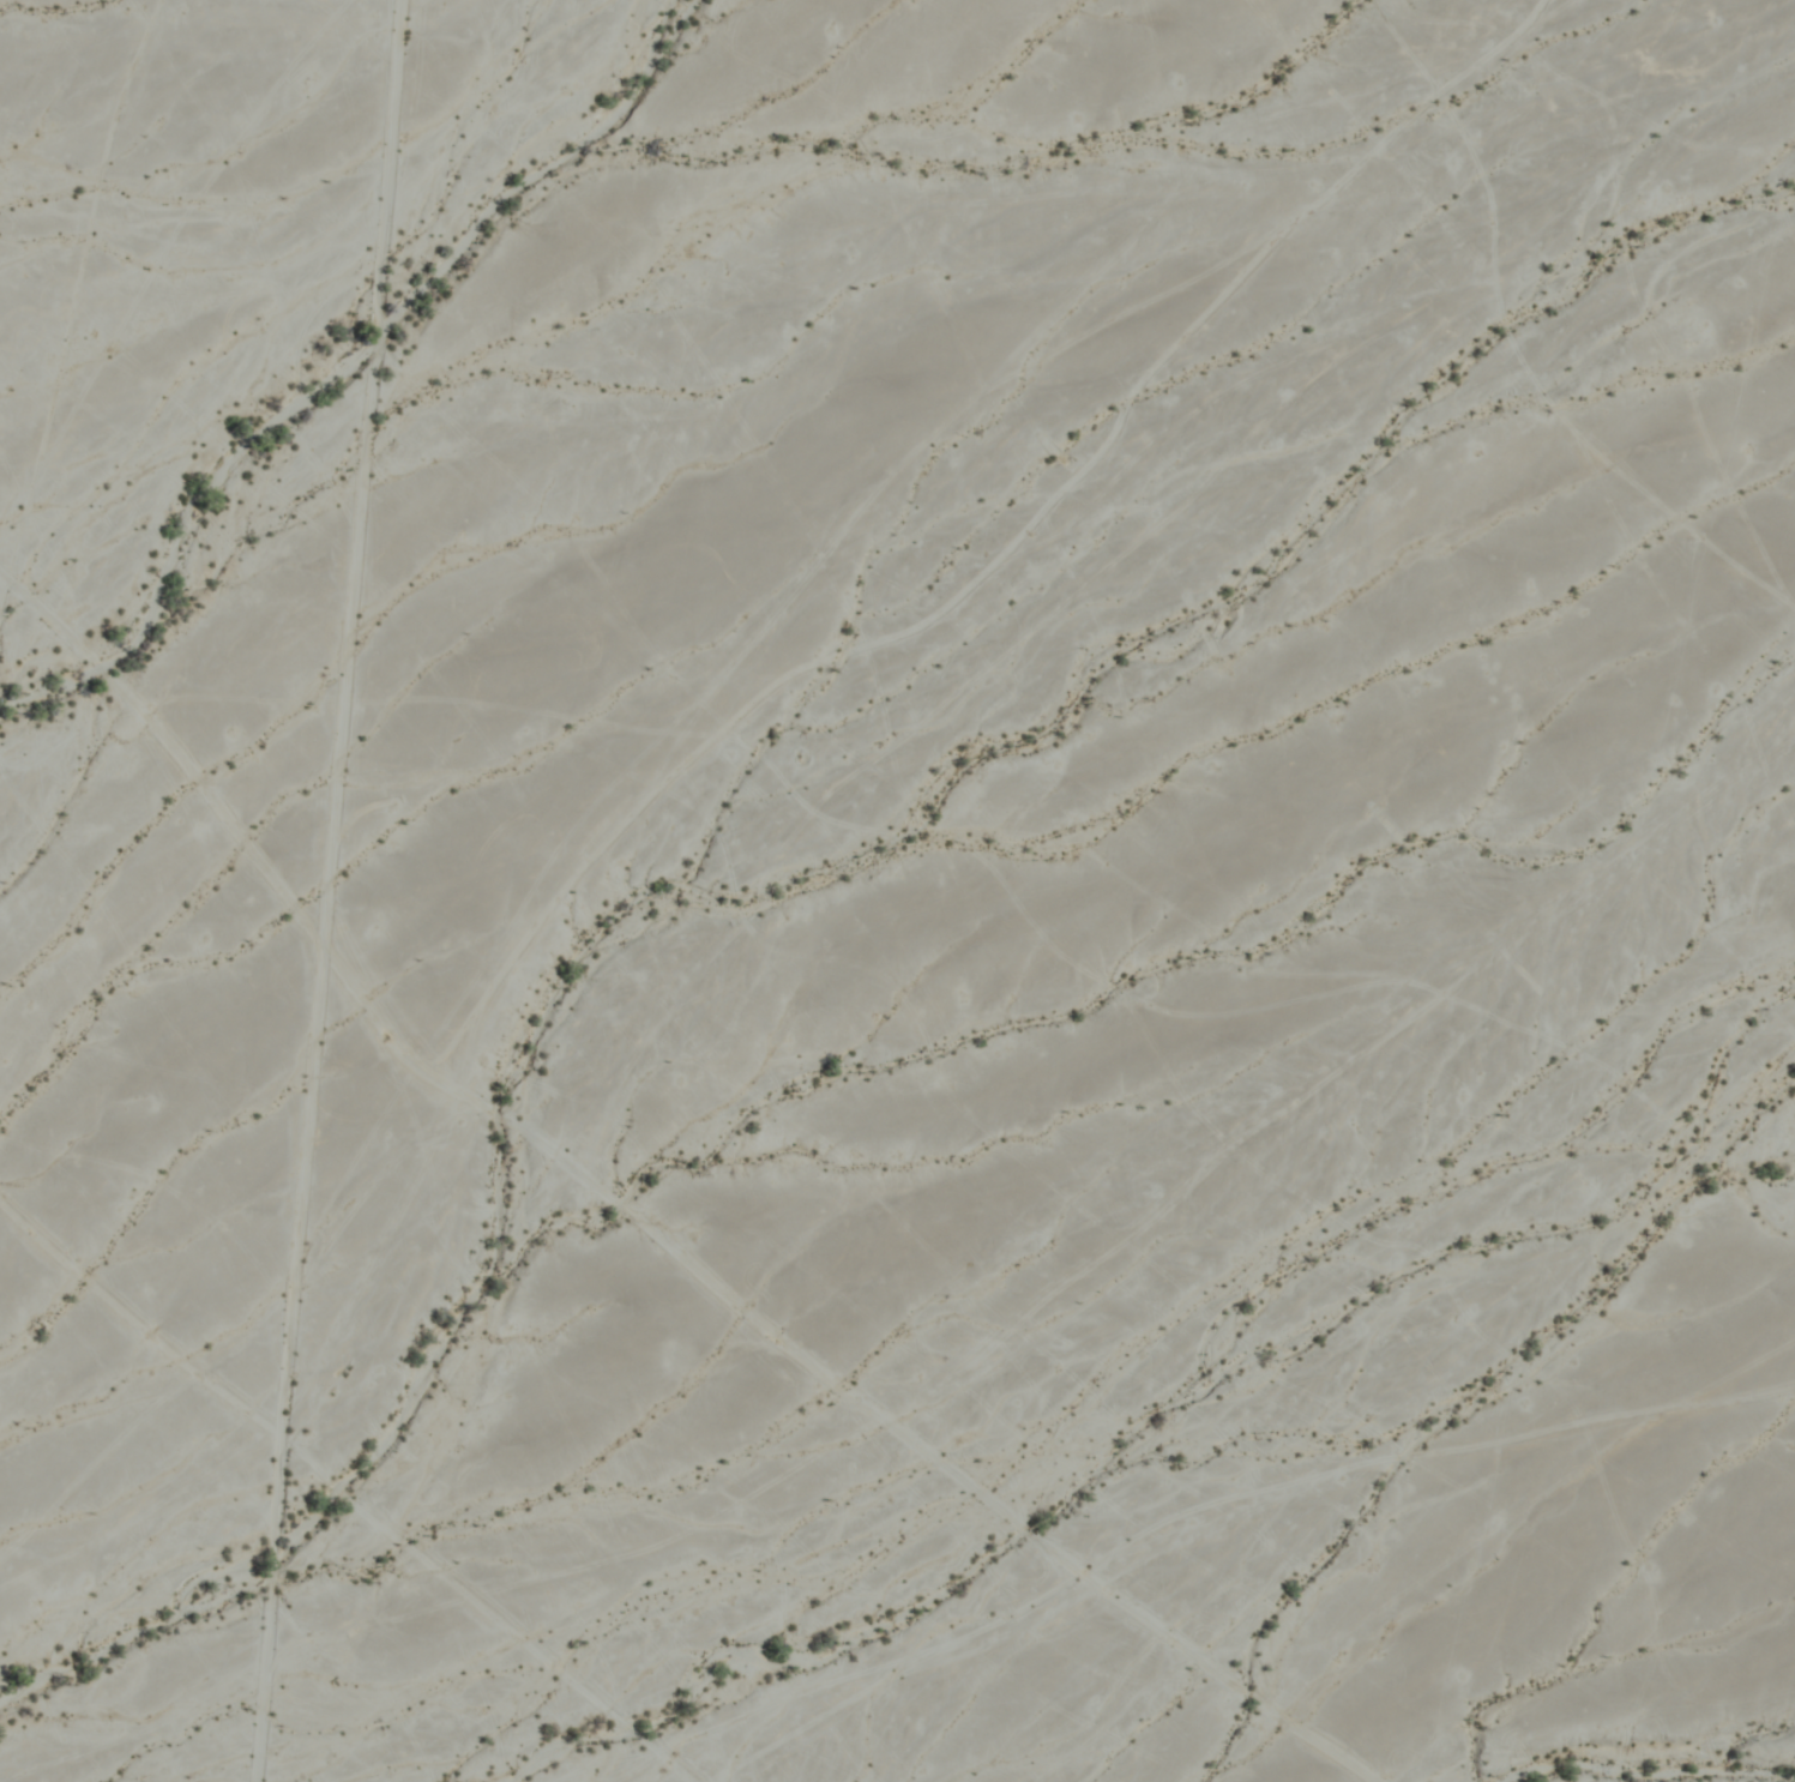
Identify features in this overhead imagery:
road: (321, 891)

